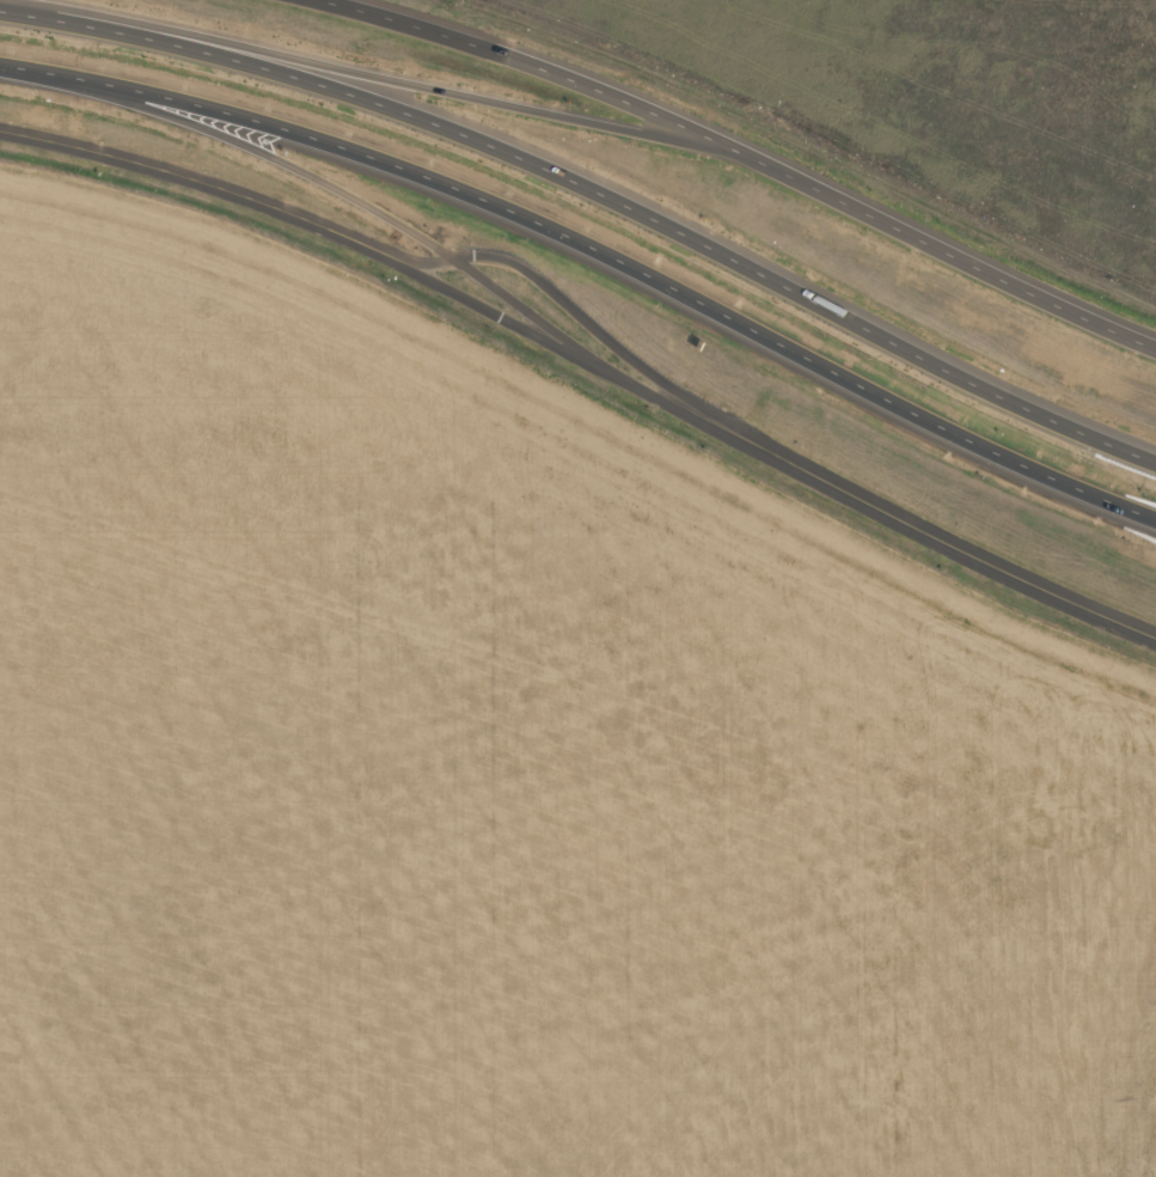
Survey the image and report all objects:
road: (103, 26)
road: (552, 71)
road: (493, 103)
road: (206, 184)
road: (330, 185)
road: (690, 238)
road: (593, 251)
road: (965, 261)
road: (591, 322)
road: (579, 359)
road: (953, 550)

